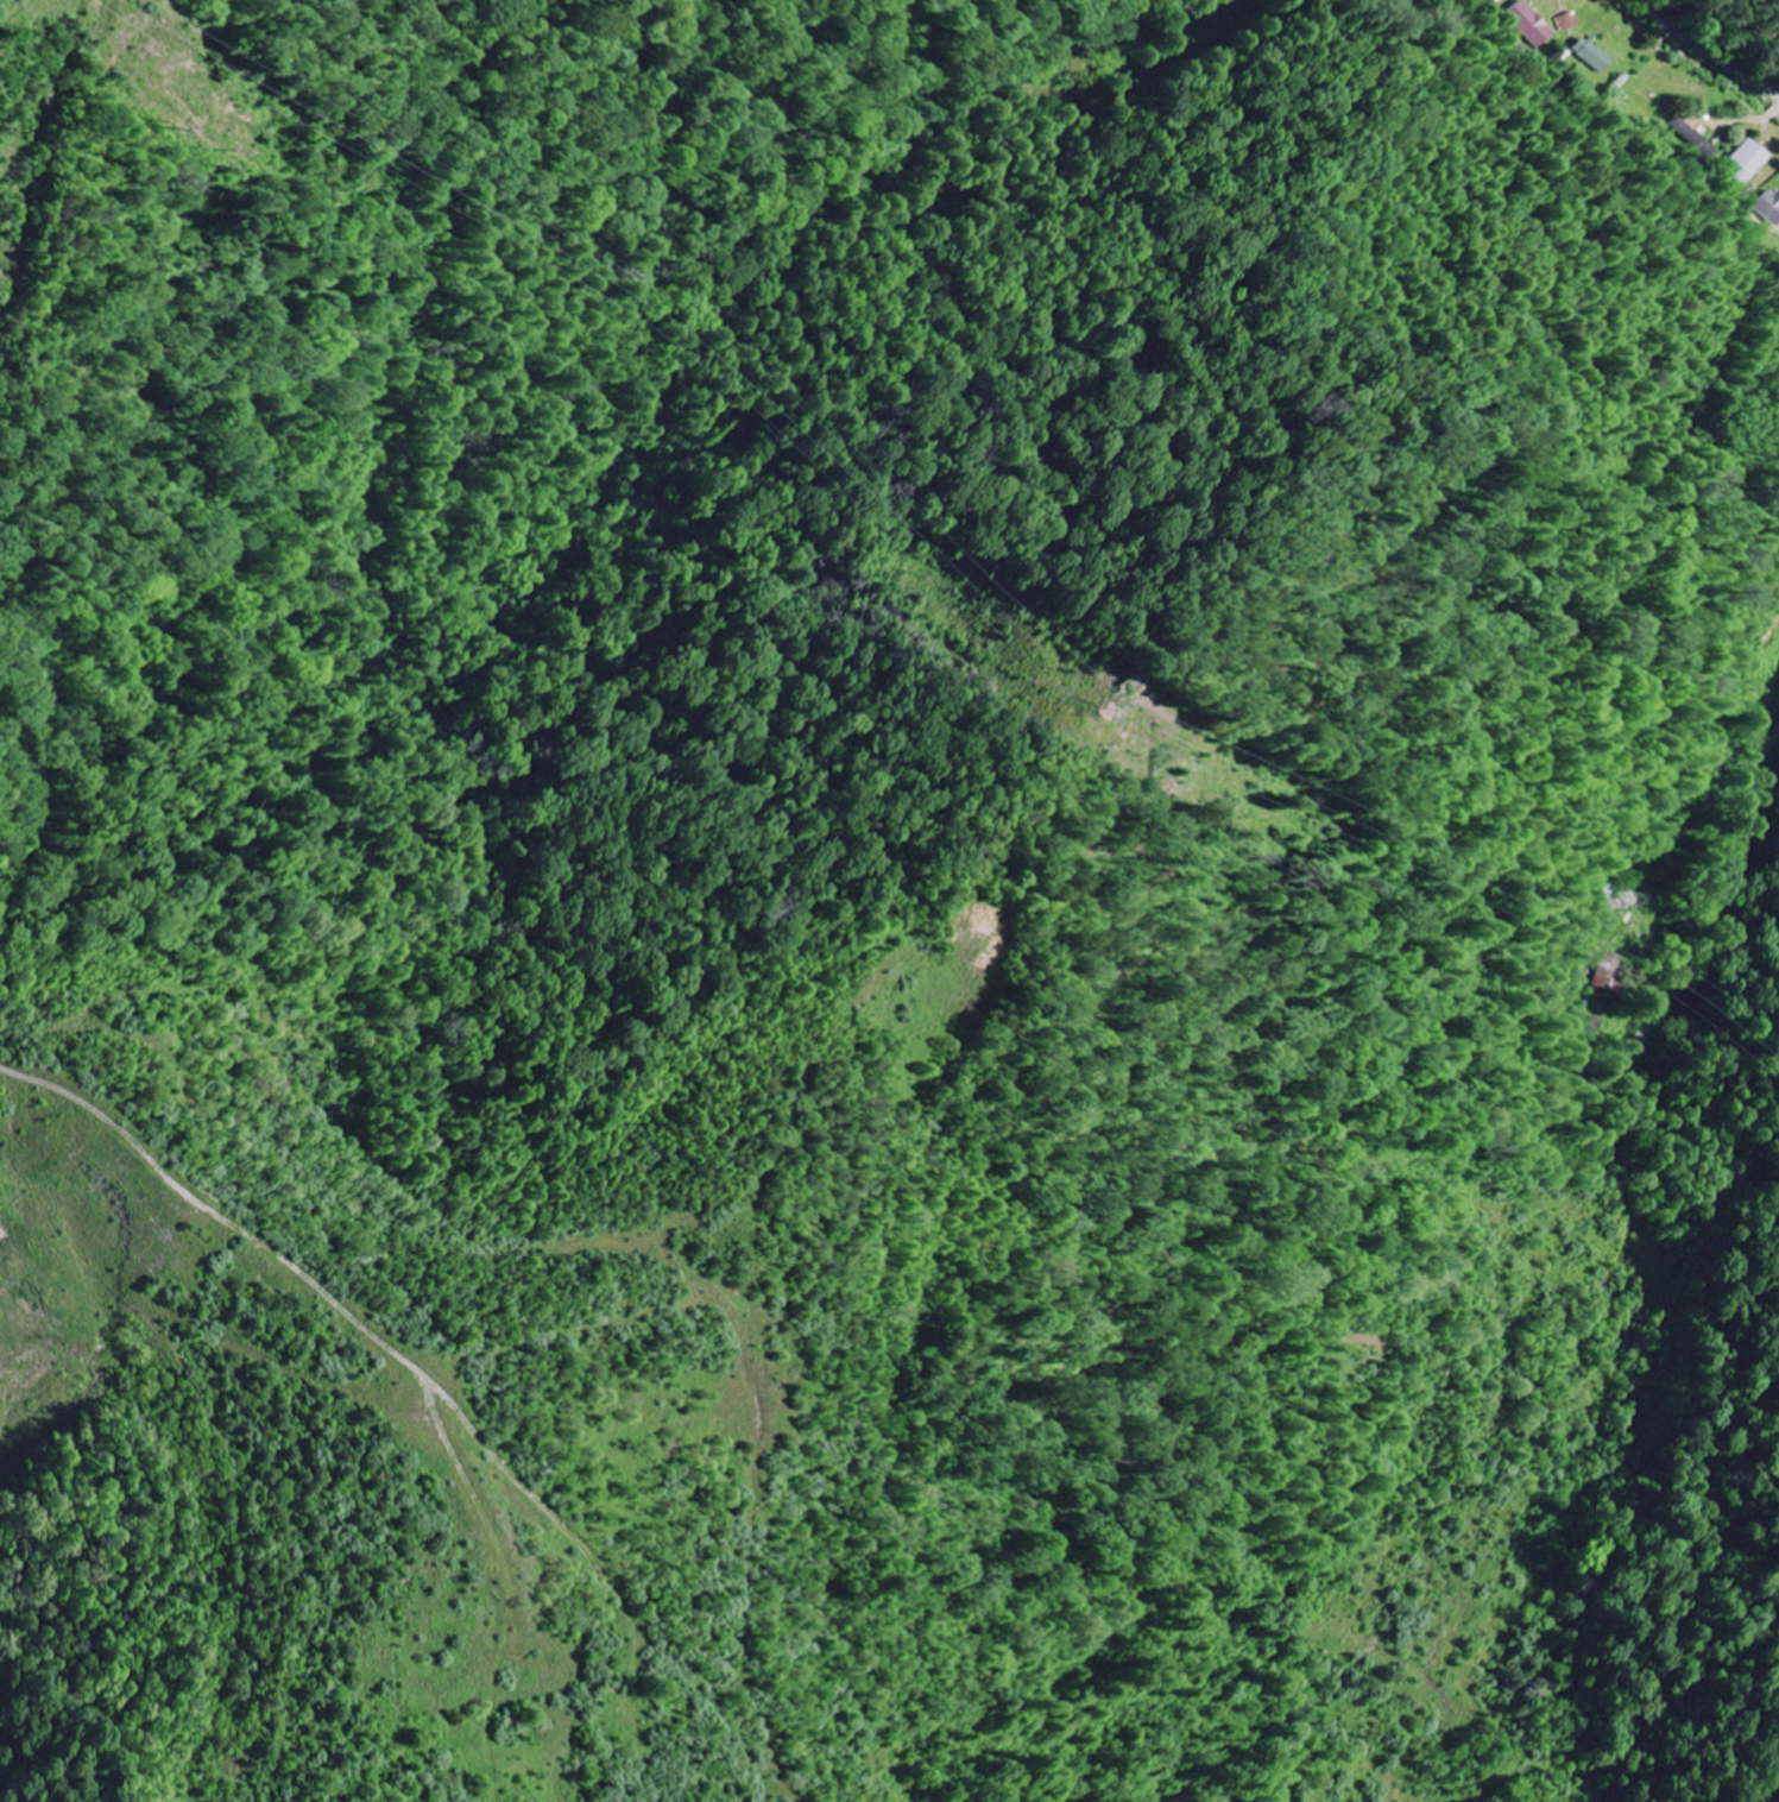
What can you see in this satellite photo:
building: (1500, 0)
building: (1569, 21)
building: (1531, 24)
road: (1709, 49)
building: (1592, 55)
building: (1747, 163)
building: (1771, 206)
road: (1705, 895)
building: (1603, 972)
building: (1584, 1034)

